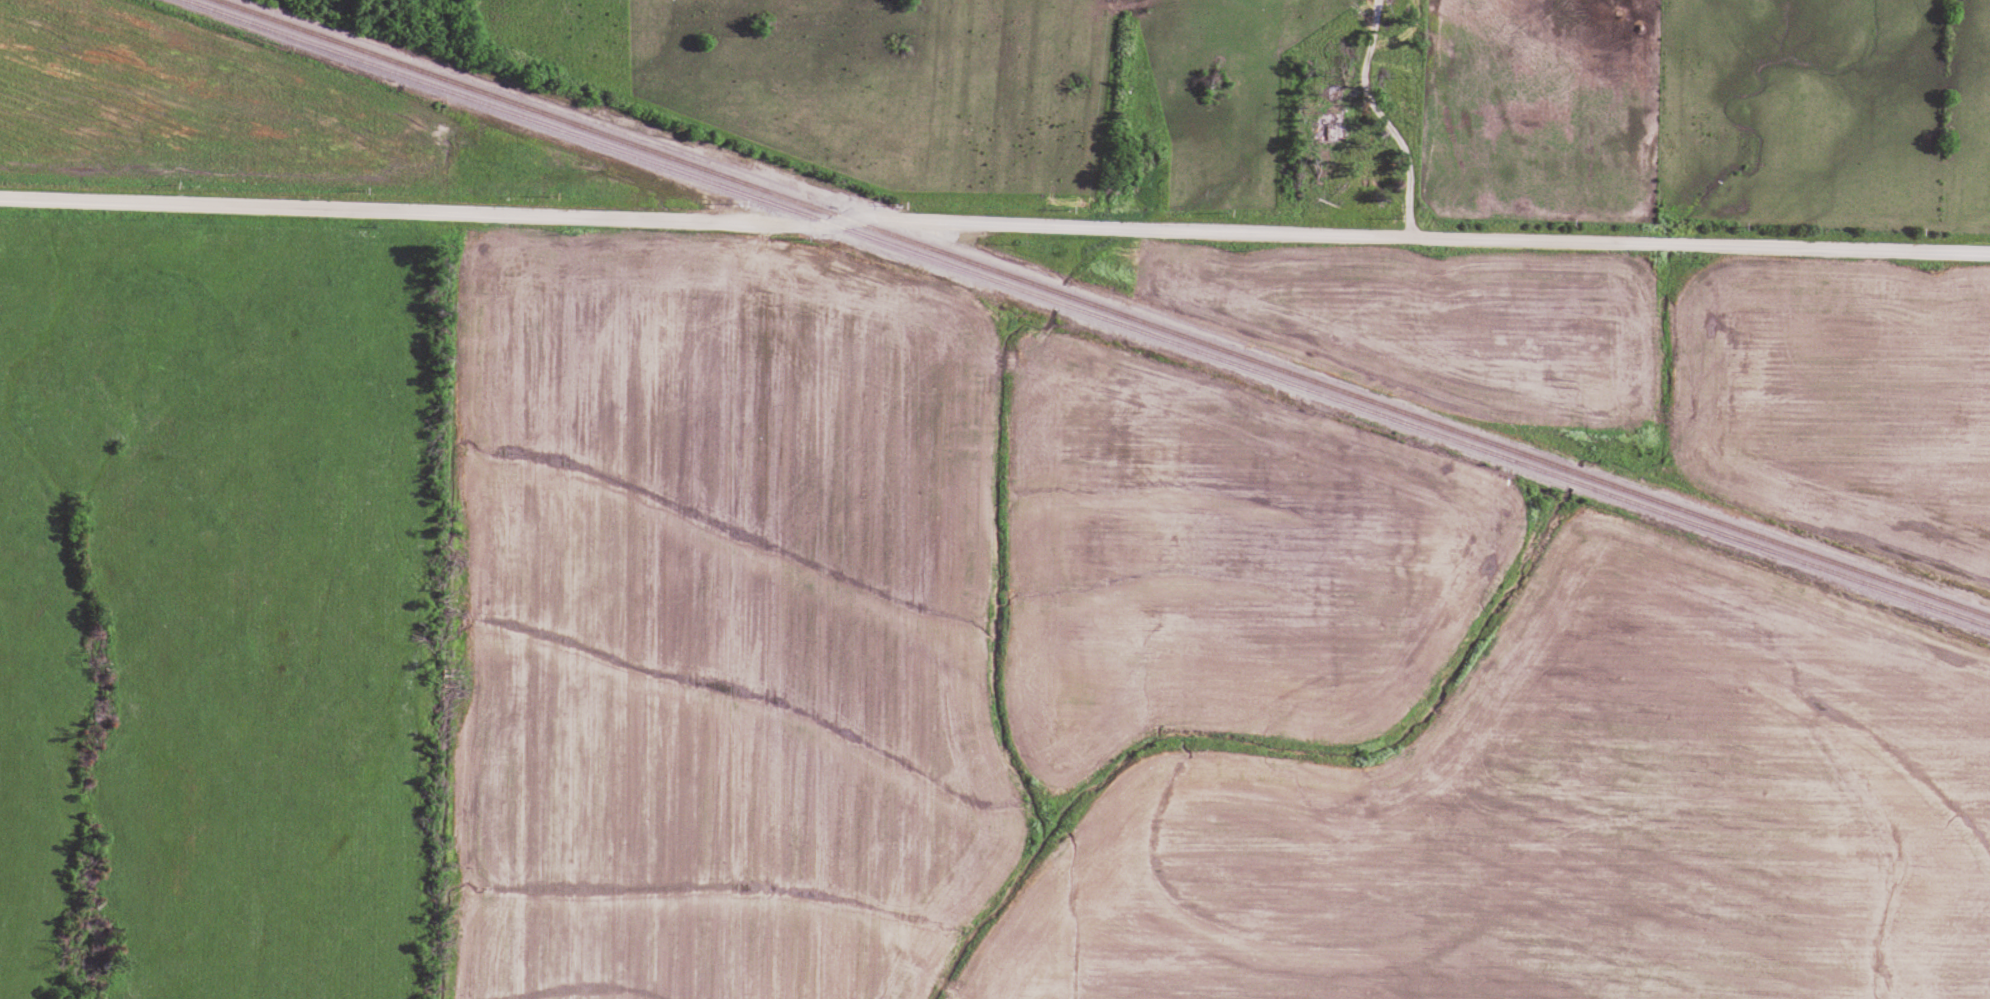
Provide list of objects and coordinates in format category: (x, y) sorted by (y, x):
road: (1403, 174)
road: (994, 225)
railway: (1102, 308)
railway: (1086, 315)

